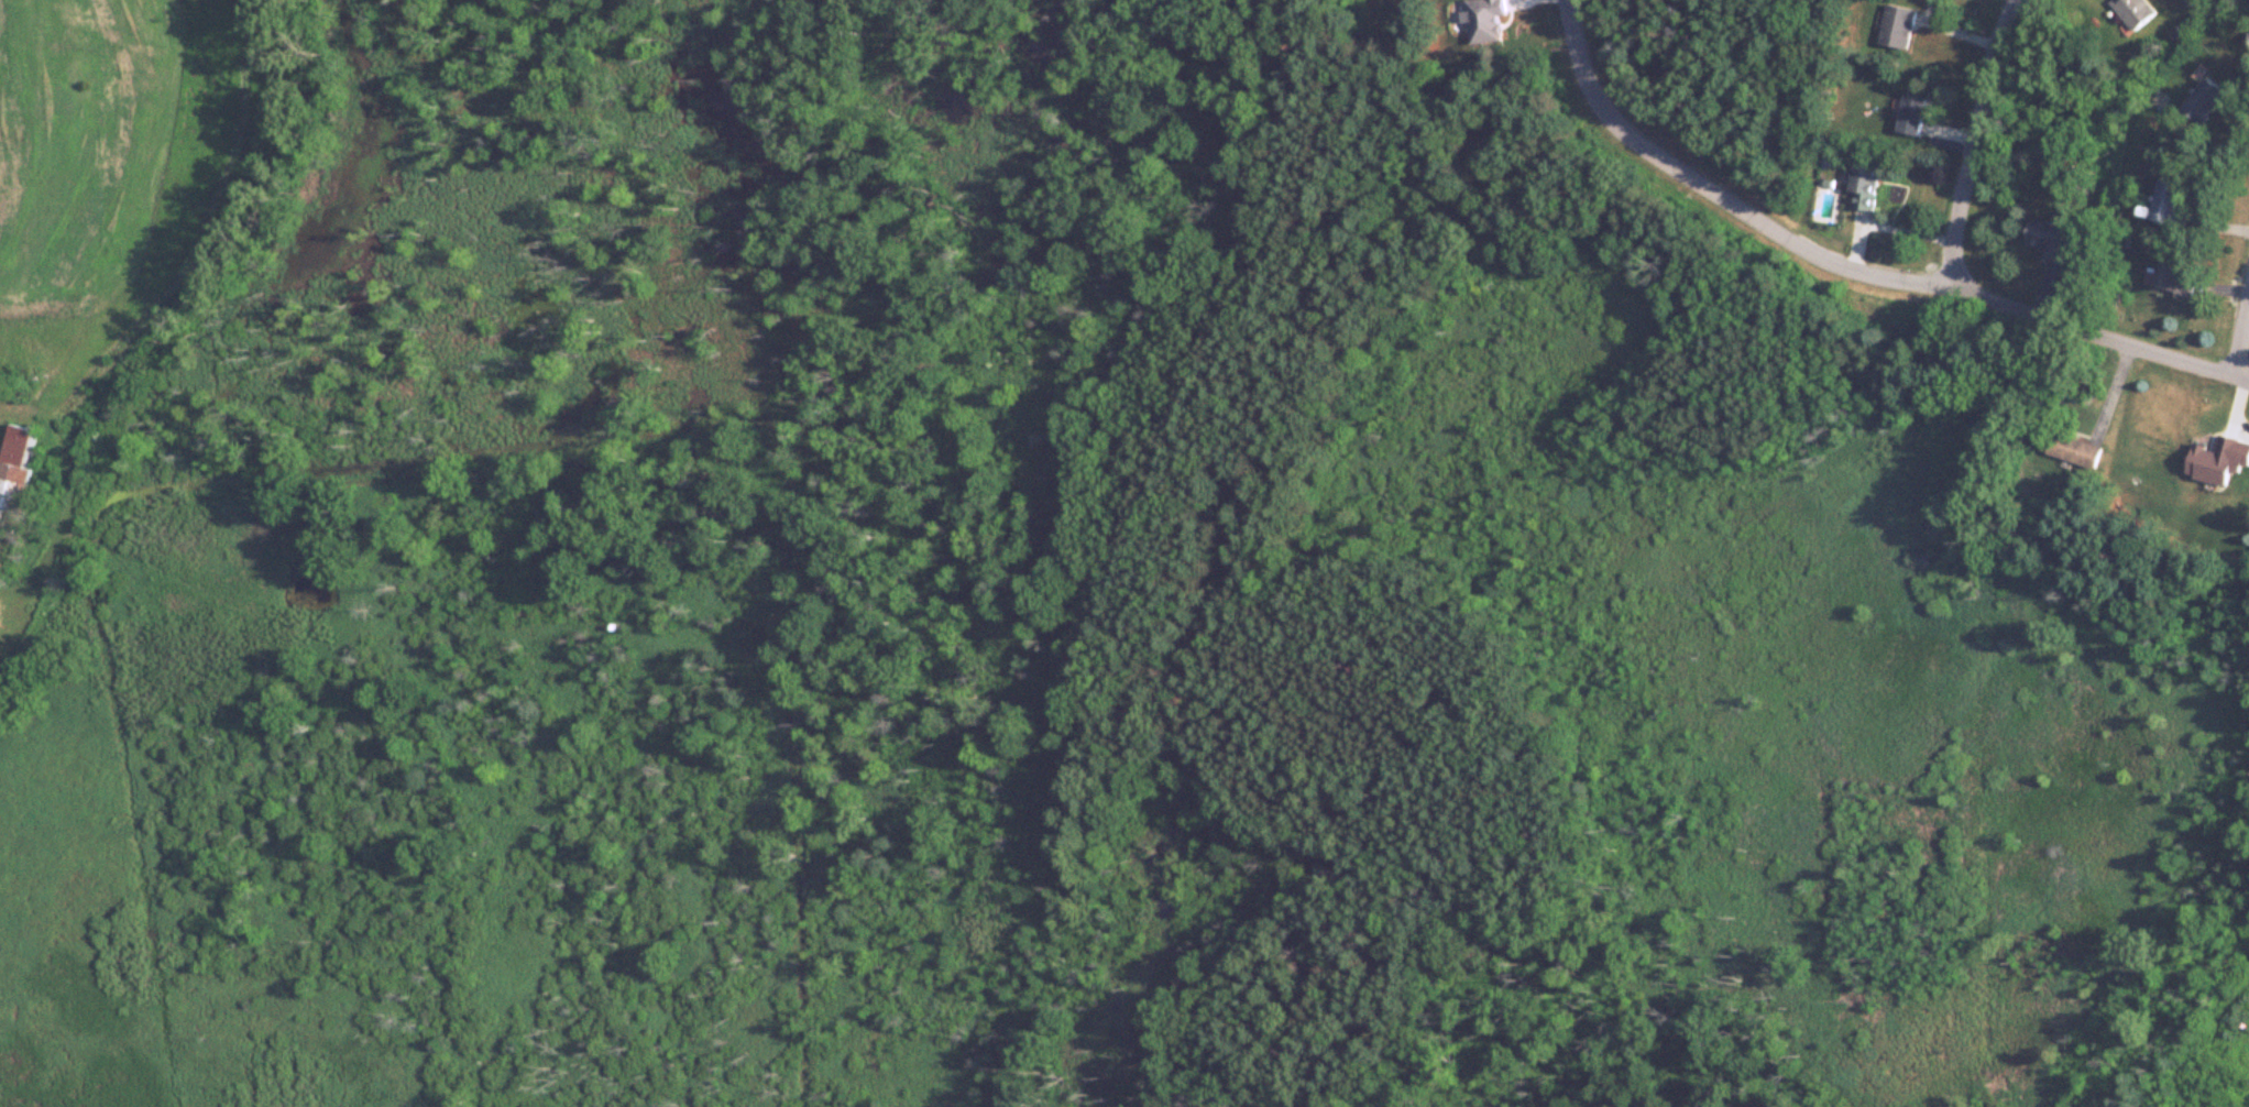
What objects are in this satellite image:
building: (2190, 1)
building: (2135, 11)
building: (1483, 20)
building: (1896, 25)
building: (2209, 99)
road: (1601, 102)
building: (1910, 114)
building: (1863, 186)
building: (2168, 204)
road: (1963, 205)
building: (2050, 238)
road: (1812, 264)
building: (2174, 277)
road: (2246, 354)
road: (2169, 358)
building: (2075, 450)
building: (2218, 459)
building: (12, 473)

